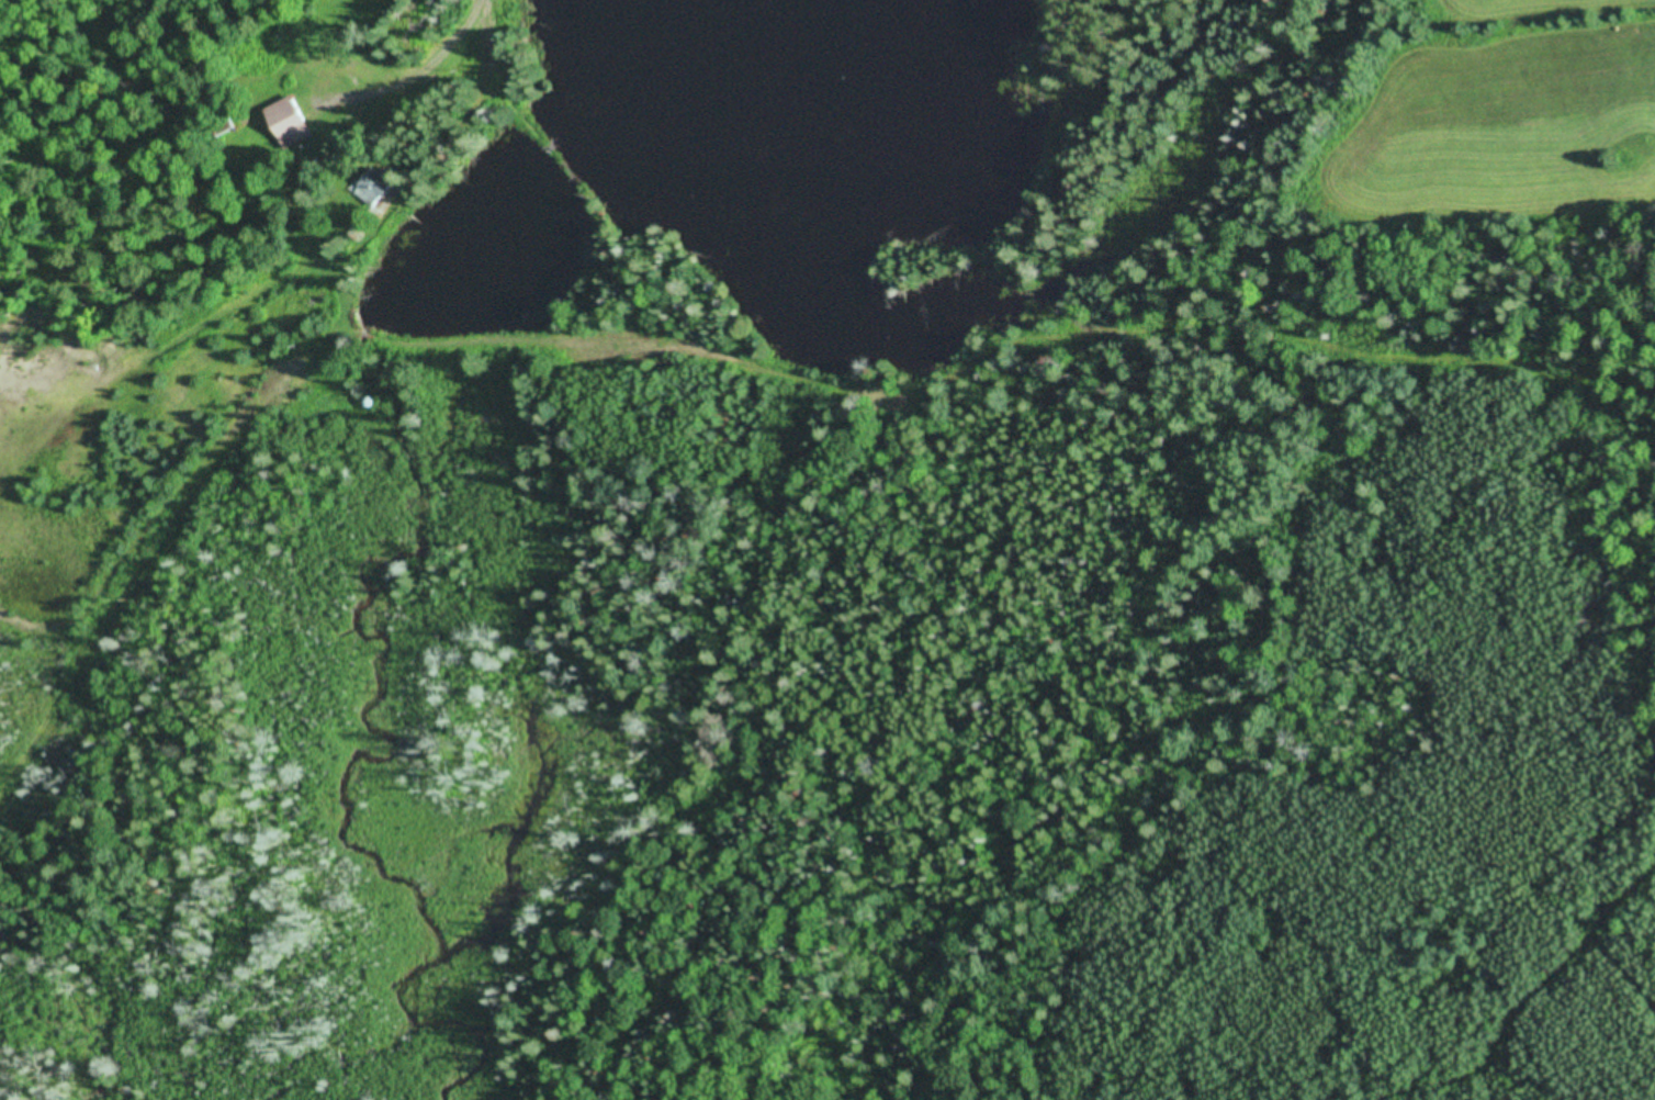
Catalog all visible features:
road: (442, 38)
building: (289, 122)
building: (223, 125)
building: (374, 186)

